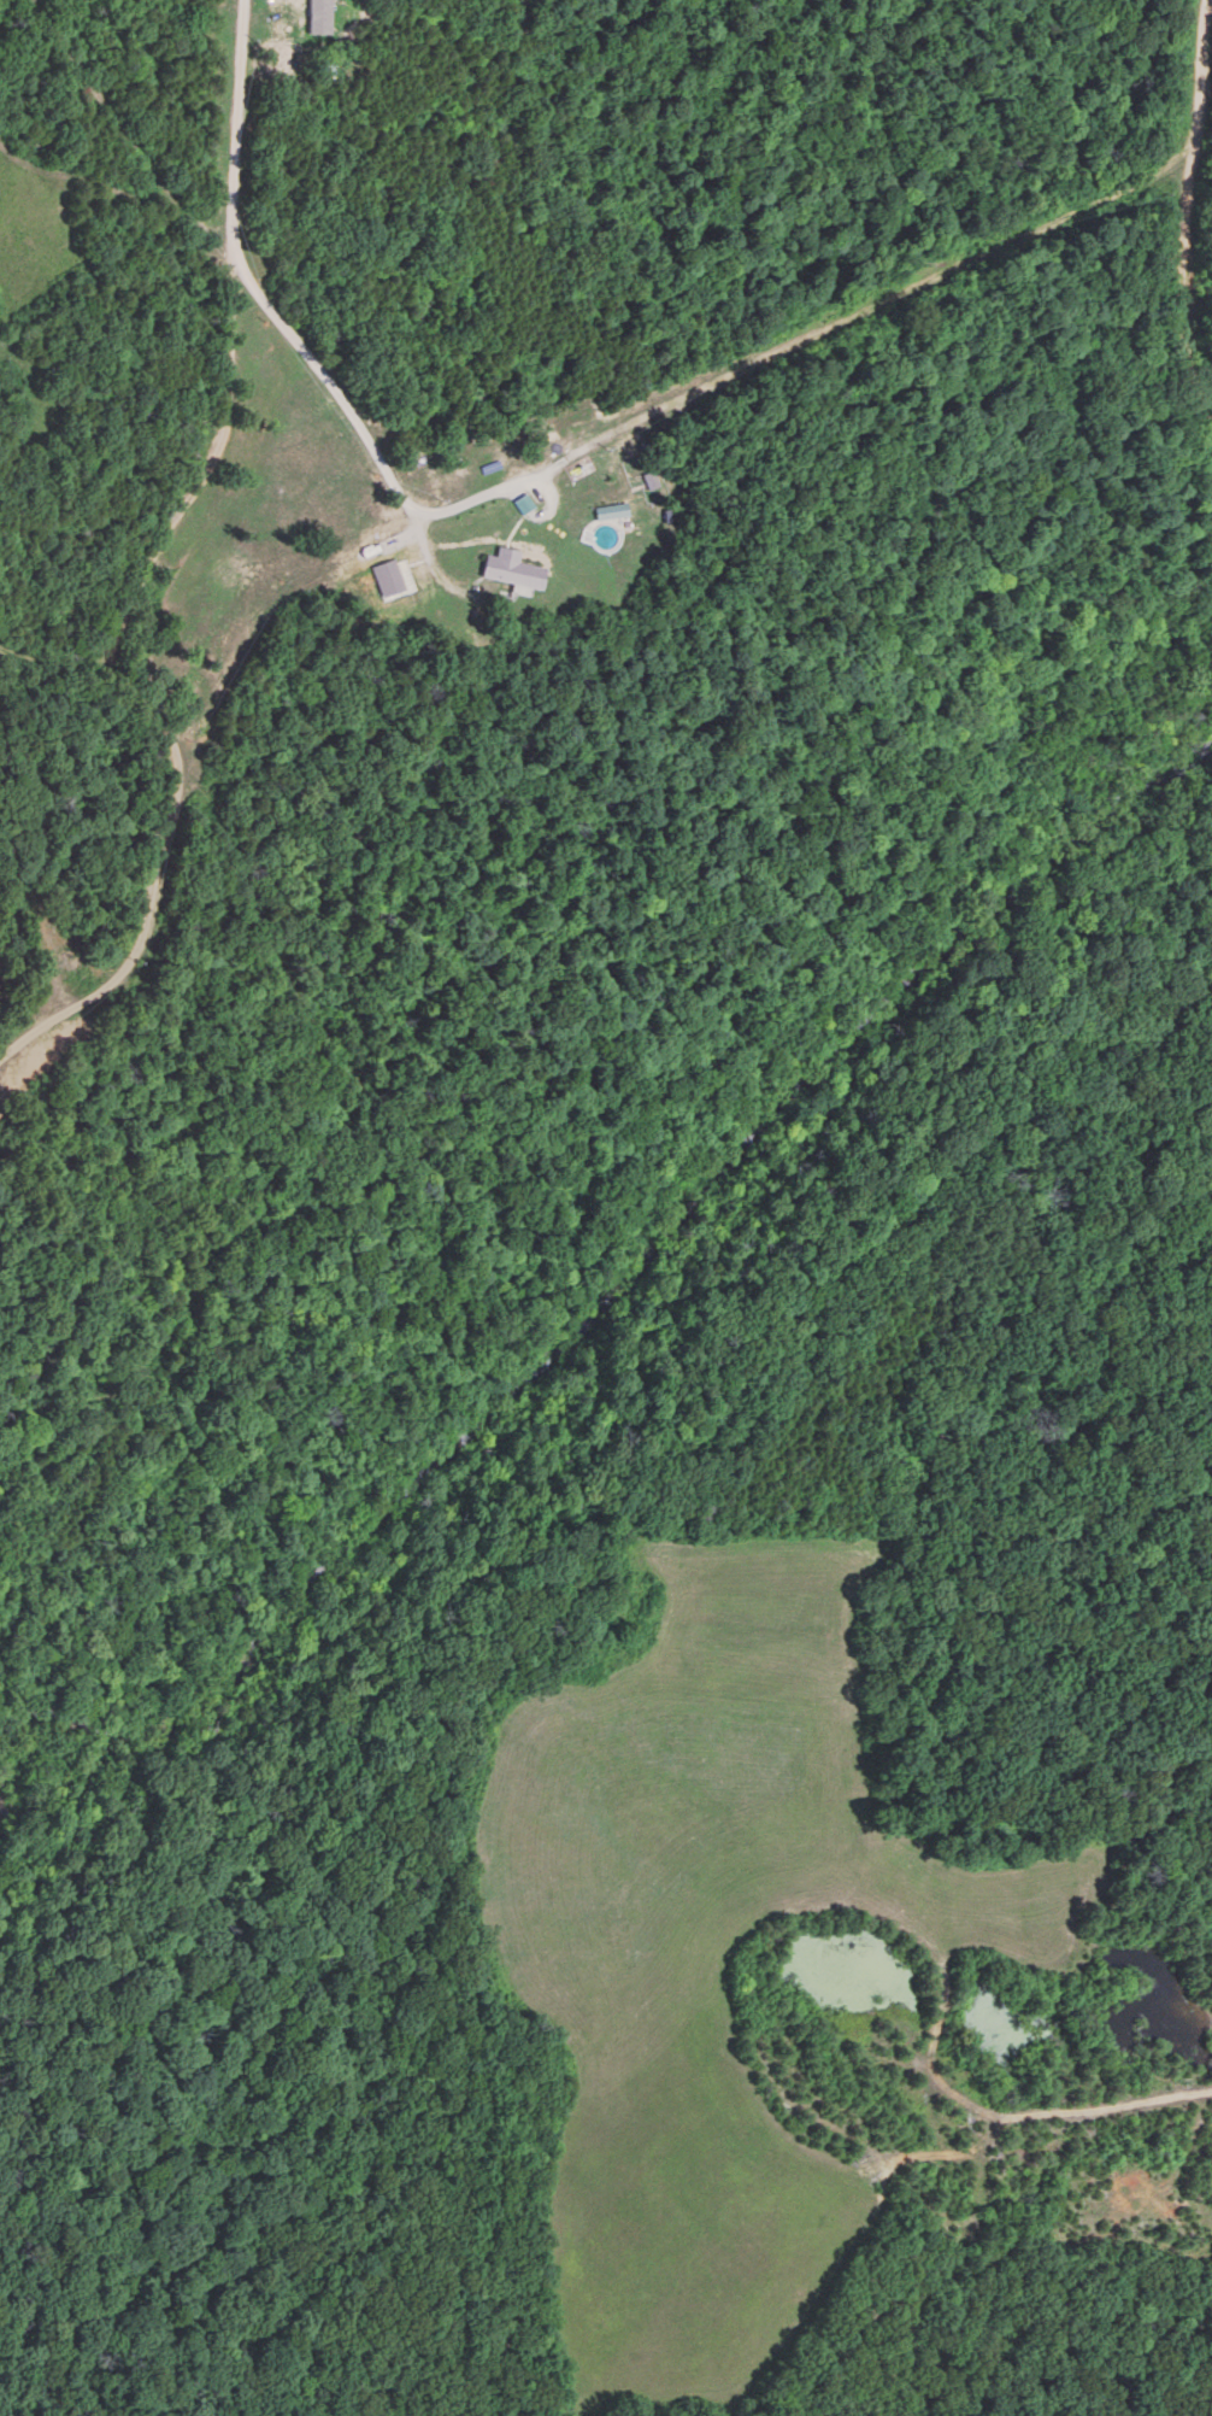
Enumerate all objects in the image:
road: (1184, 205)
road: (546, 473)
building: (499, 569)
road: (264, 864)
road: (569, 1133)

